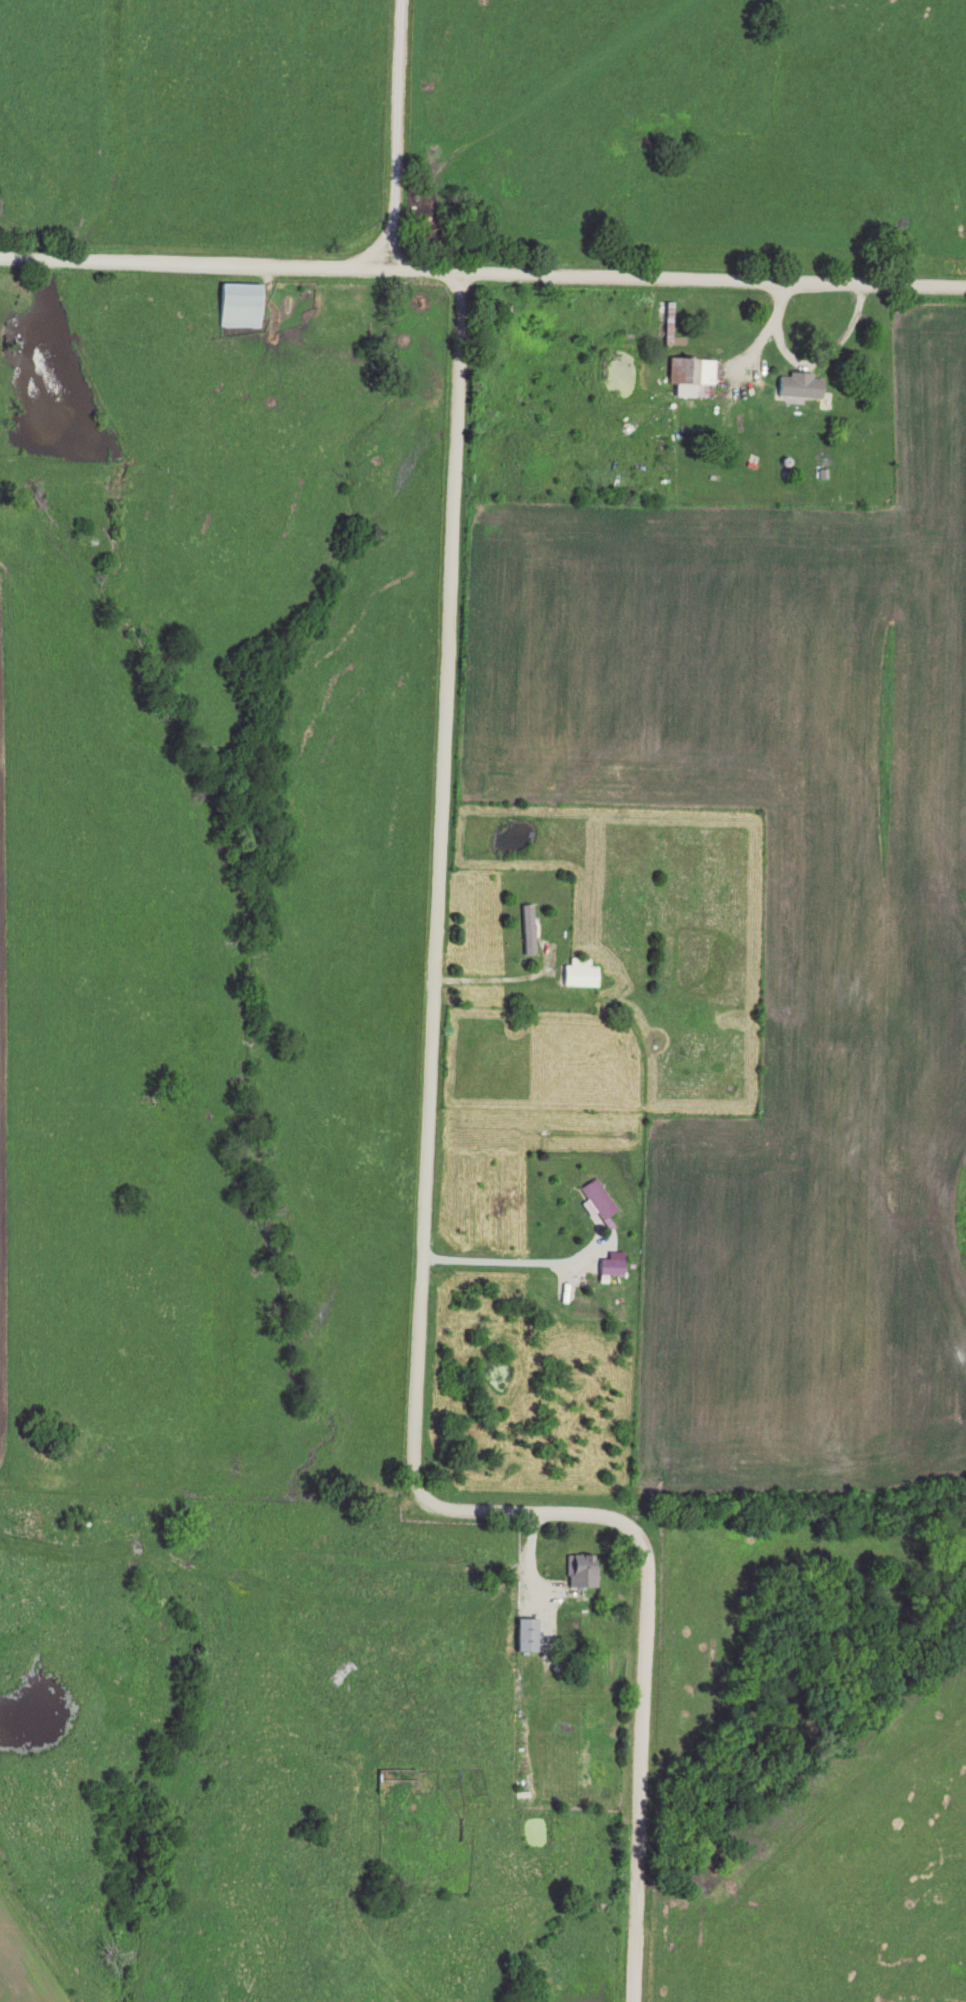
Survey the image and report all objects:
road: (379, 133)
road: (186, 261)
road: (413, 271)
road: (710, 283)
building: (238, 306)
building: (691, 377)
building: (528, 930)
building: (579, 974)
road: (496, 979)
building: (597, 1199)
road: (429, 1233)
road: (515, 1261)
building: (609, 1269)
building: (578, 1572)
building: (526, 1618)
building: (395, 1775)

